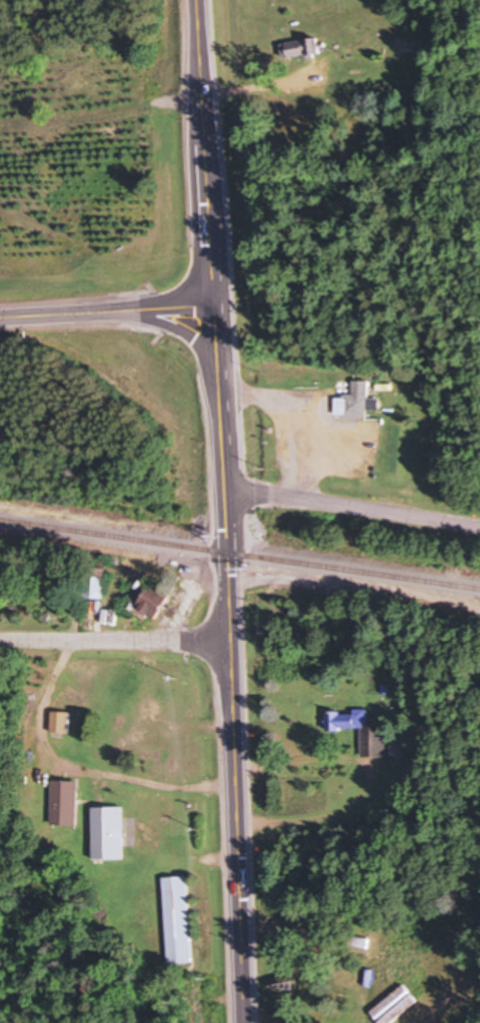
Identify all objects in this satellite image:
building: (405, 44)
building: (300, 49)
road: (205, 152)
park: (97, 243)
road: (107, 312)
road: (180, 329)
building: (355, 401)
road: (352, 504)
railway: (240, 553)
building: (93, 587)
building: (148, 599)
road: (116, 639)
road: (233, 663)
building: (59, 721)
building: (360, 730)
building: (398, 748)
road: (371, 780)
building: (64, 803)
building: (107, 832)
building: (177, 919)
building: (360, 942)

